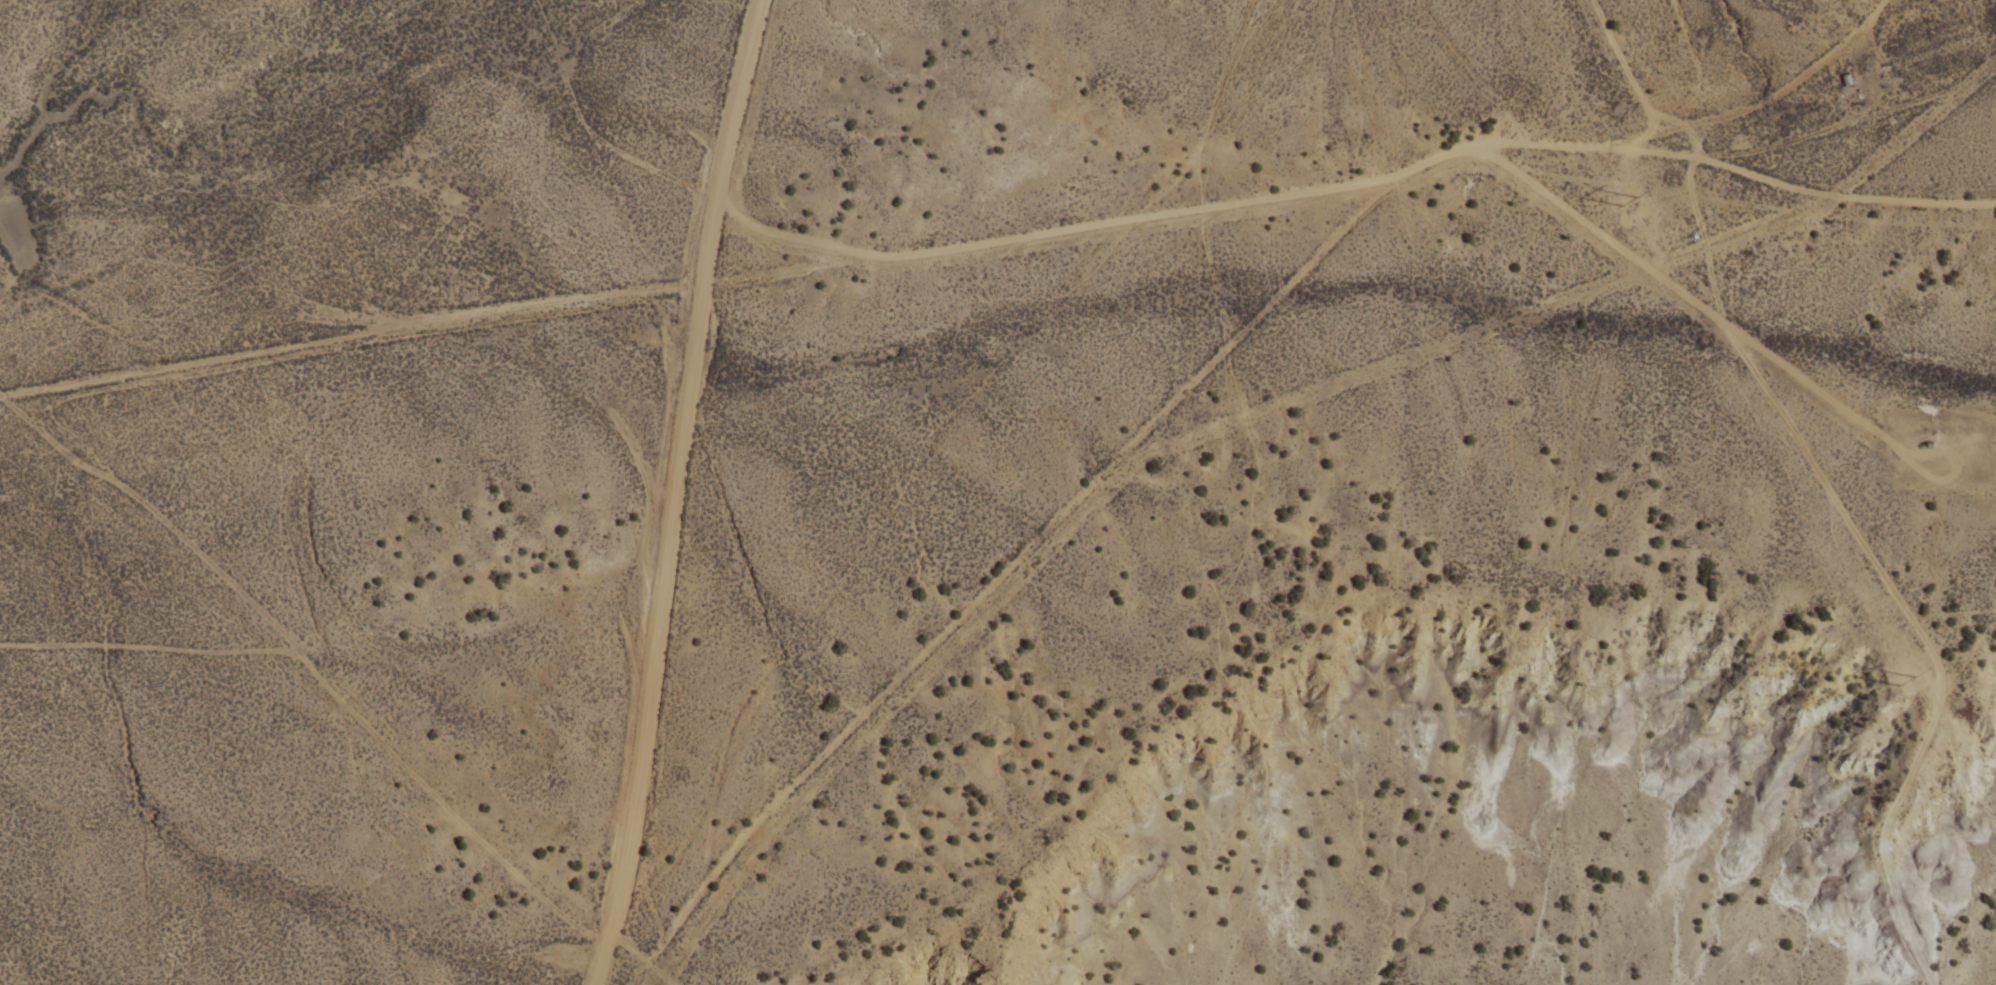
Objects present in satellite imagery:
road: (1759, 104)
river: (251, 119)
power tower: (1629, 209)
road: (1219, 356)
road: (672, 492)
power tower: (1907, 690)

